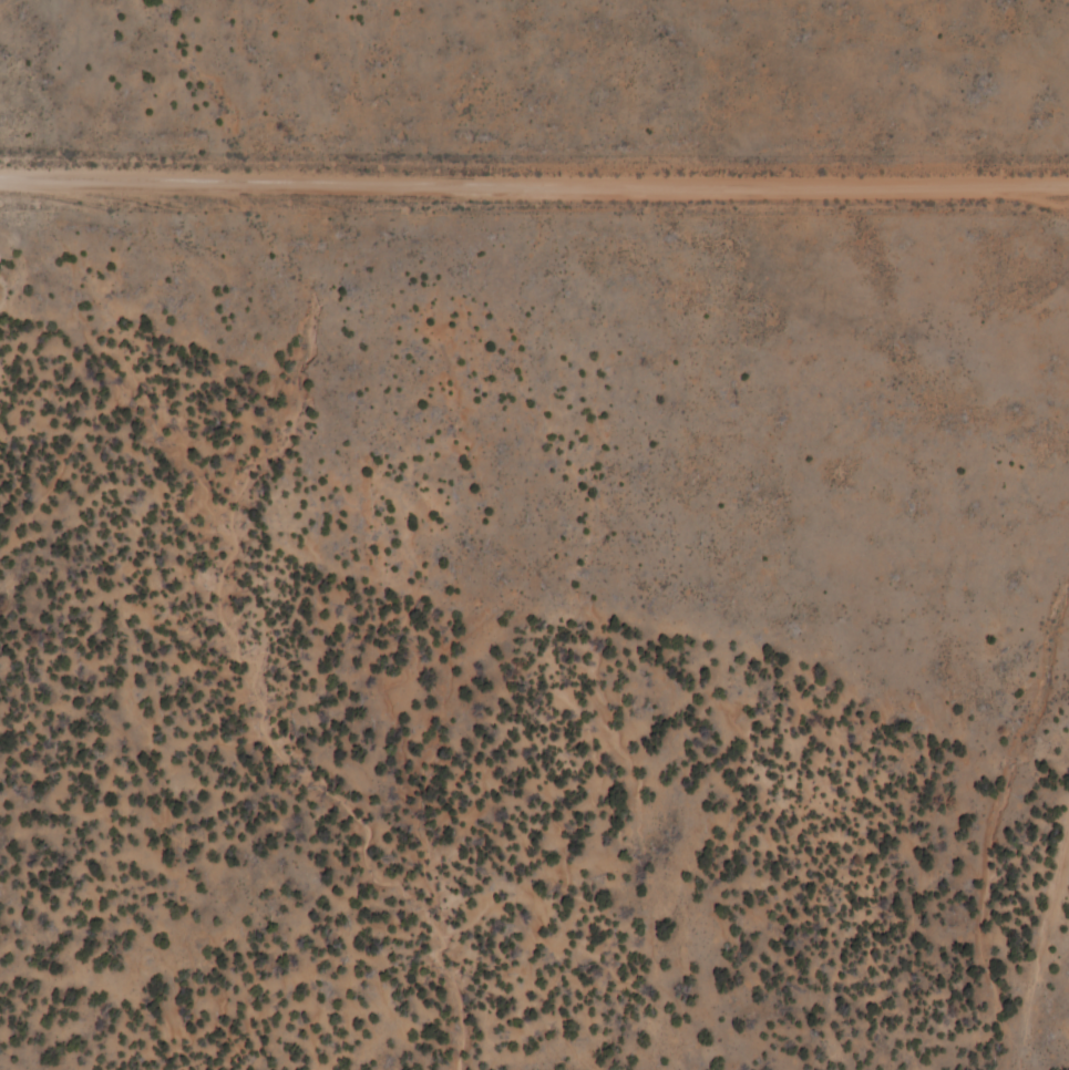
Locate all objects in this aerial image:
road: (1052, 1001)

